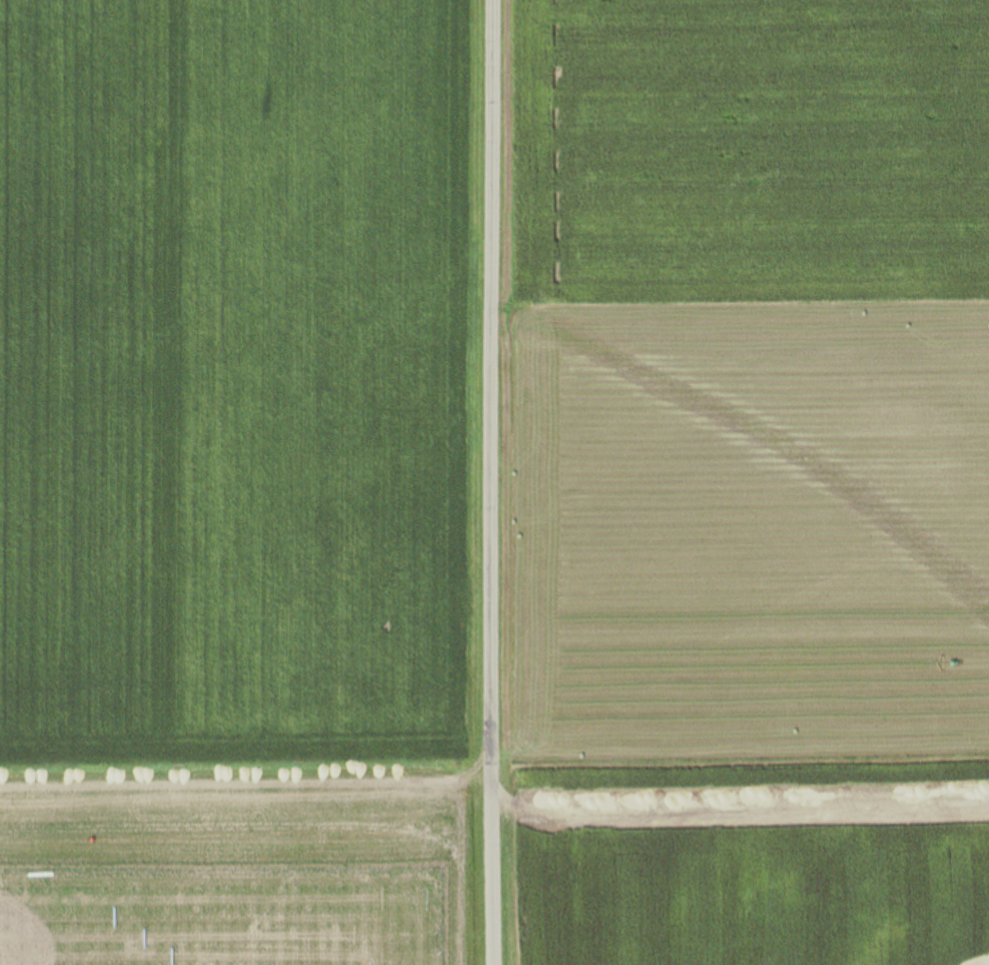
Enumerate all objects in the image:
road: (507, 482)

